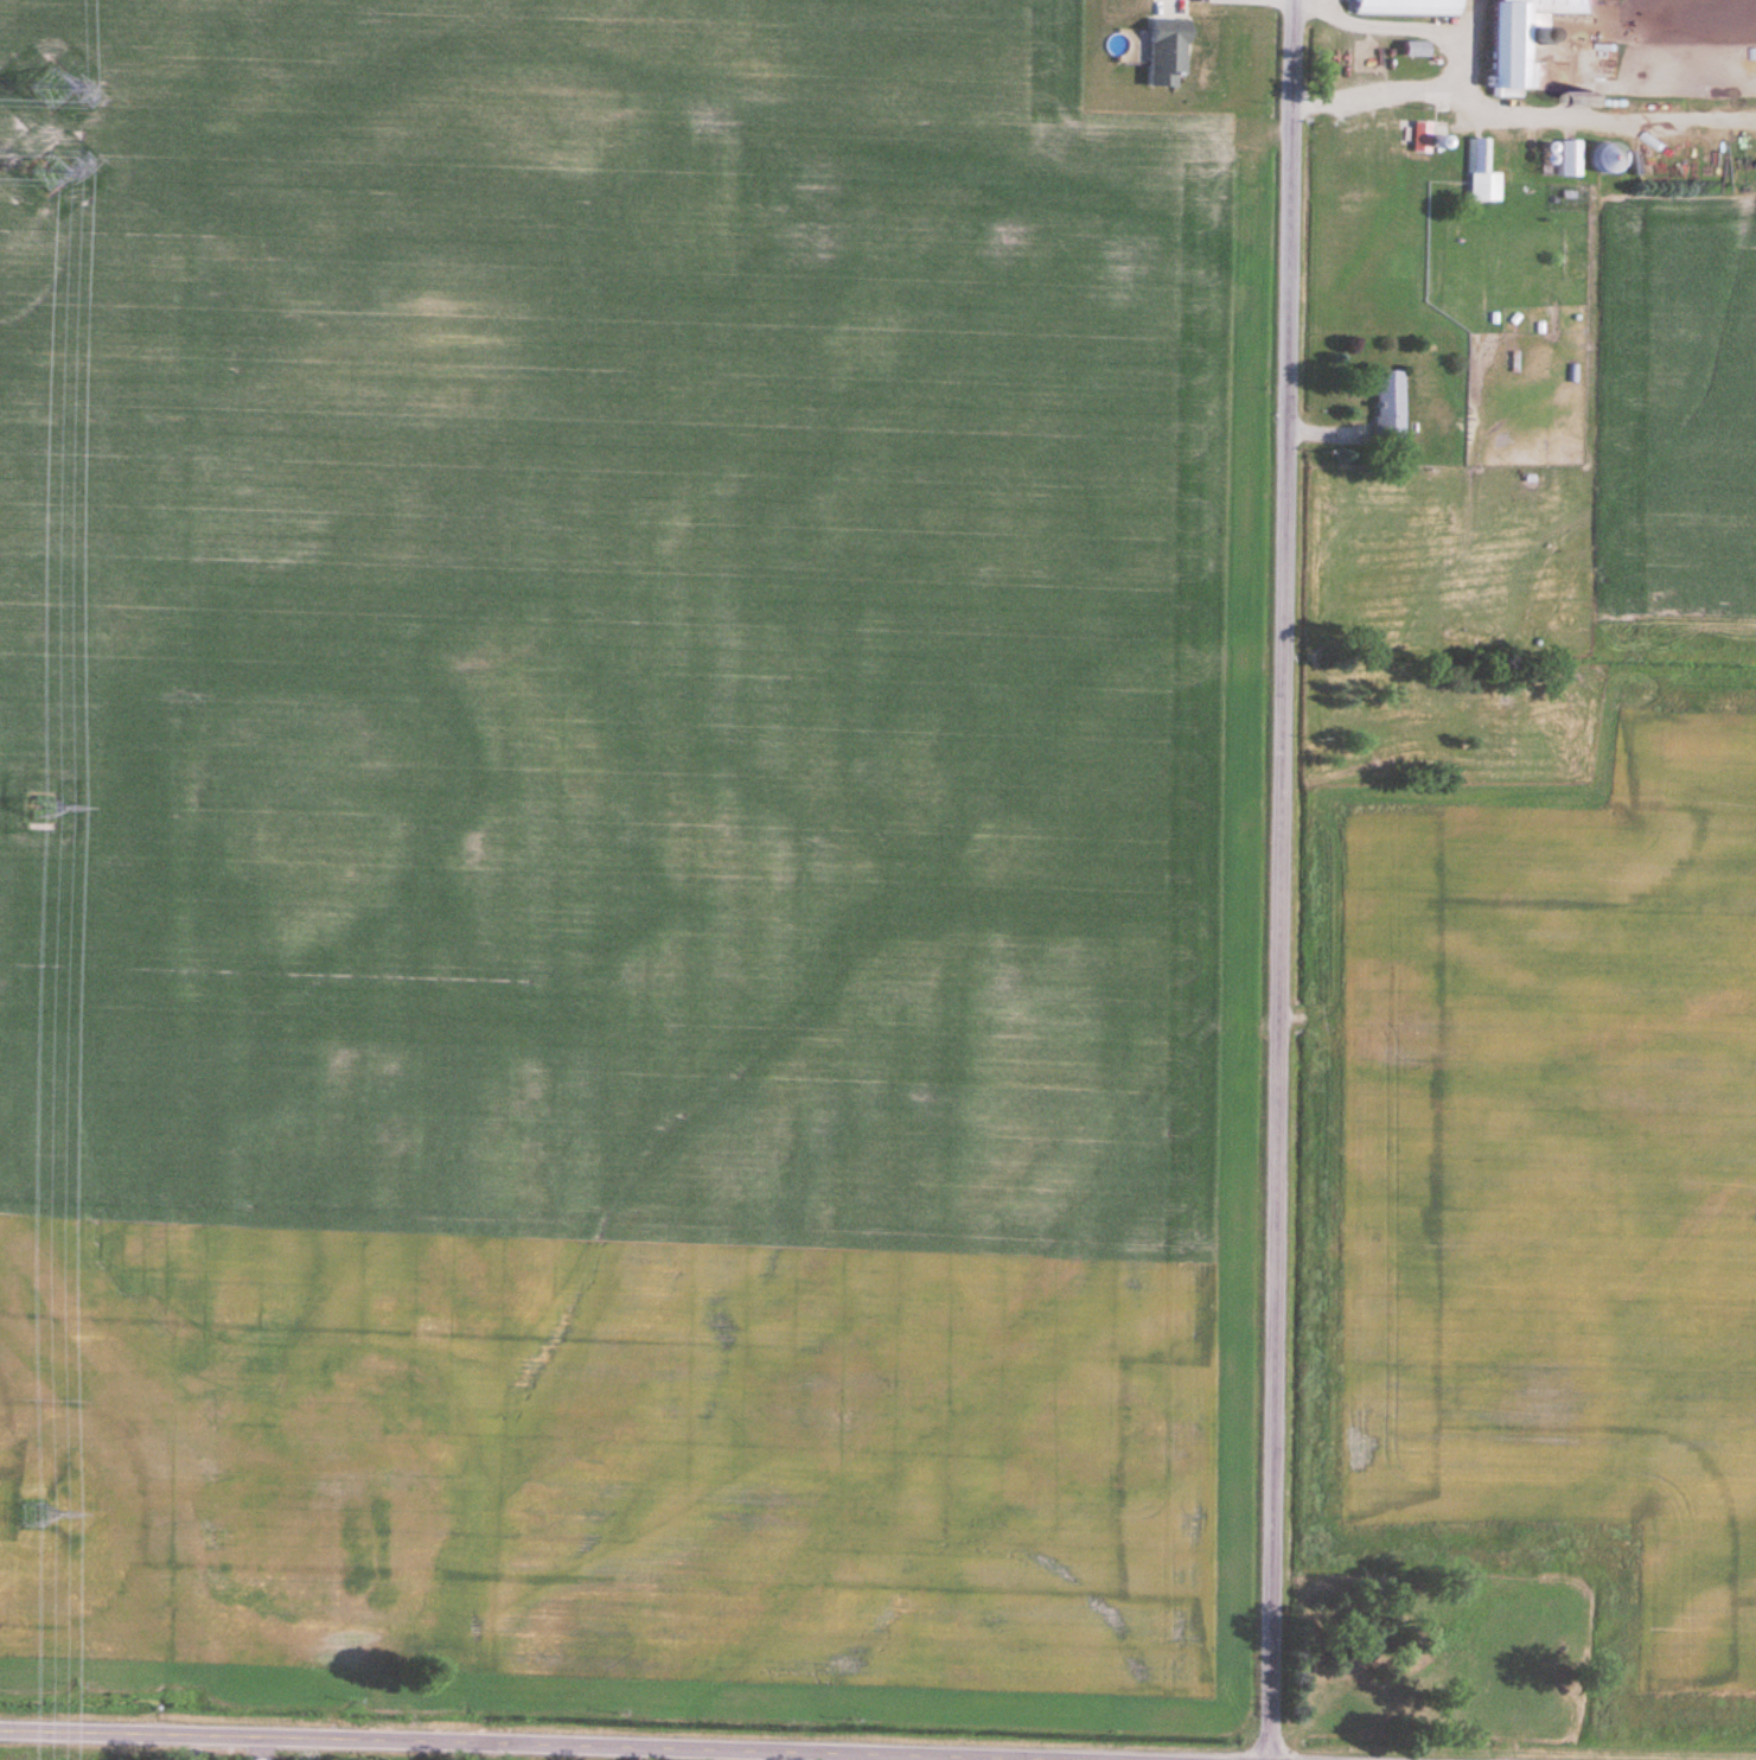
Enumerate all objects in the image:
building: (1410, 7)
road: (1474, 20)
road: (1394, 28)
building: (1528, 38)
building: (1168, 52)
building: (1369, 58)
power tower: (52, 88)
road: (1399, 94)
road: (1492, 115)
road: (1647, 120)
building: (1431, 136)
power tower: (52, 173)
building: (1484, 173)
crop: (1755, 192)
building: (1391, 403)
crop: (1677, 403)
crop: (1674, 636)
power tower: (40, 810)
crop: (606, 841)
road: (1283, 879)
crop: (1565, 1195)
power tower: (39, 1520)
road: (481, 1745)
road: (847, 1758)

